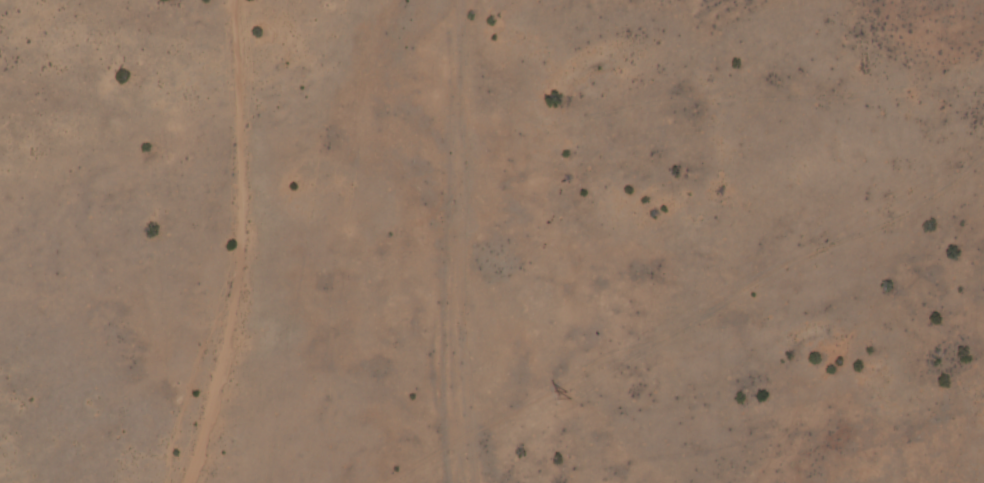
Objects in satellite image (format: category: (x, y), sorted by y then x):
road: (508, 241)

